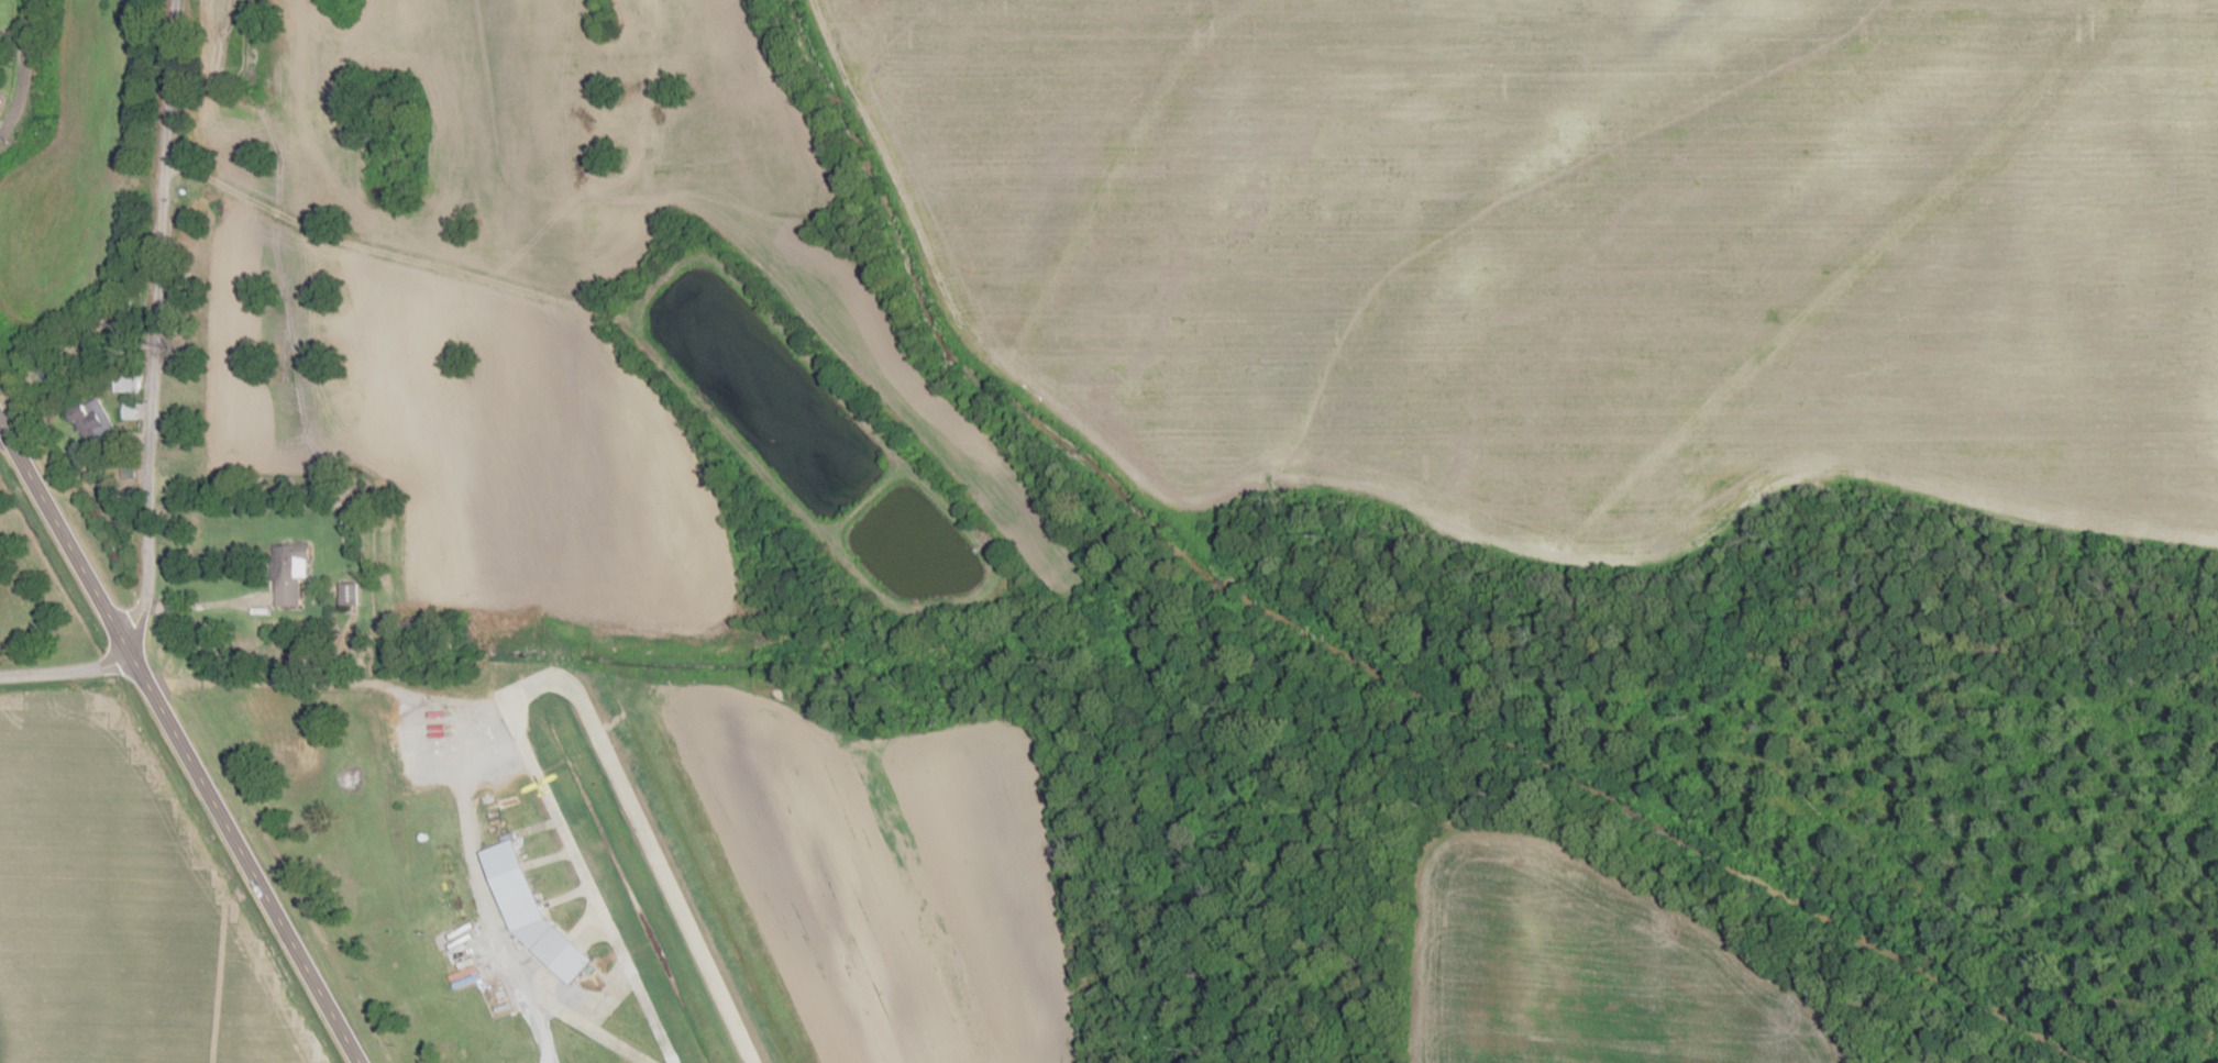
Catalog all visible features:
road: (22, 74)
road: (470, 277)
road: (158, 325)
building: (126, 385)
building: (91, 421)
building: (288, 573)
road: (65, 672)
road: (297, 684)
road: (179, 744)
airport hangar: (504, 841)
building: (504, 841)
airport taxiway: (573, 841)
building: (438, 851)
airport runway: (667, 877)
road: (484, 884)
airport hangar: (526, 920)
building: (526, 920)
airport hangar: (448, 950)
building: (448, 950)
airport hangar: (561, 953)
building: (561, 953)
airport taxiway: (604, 990)
airport taxiway: (583, 1021)

